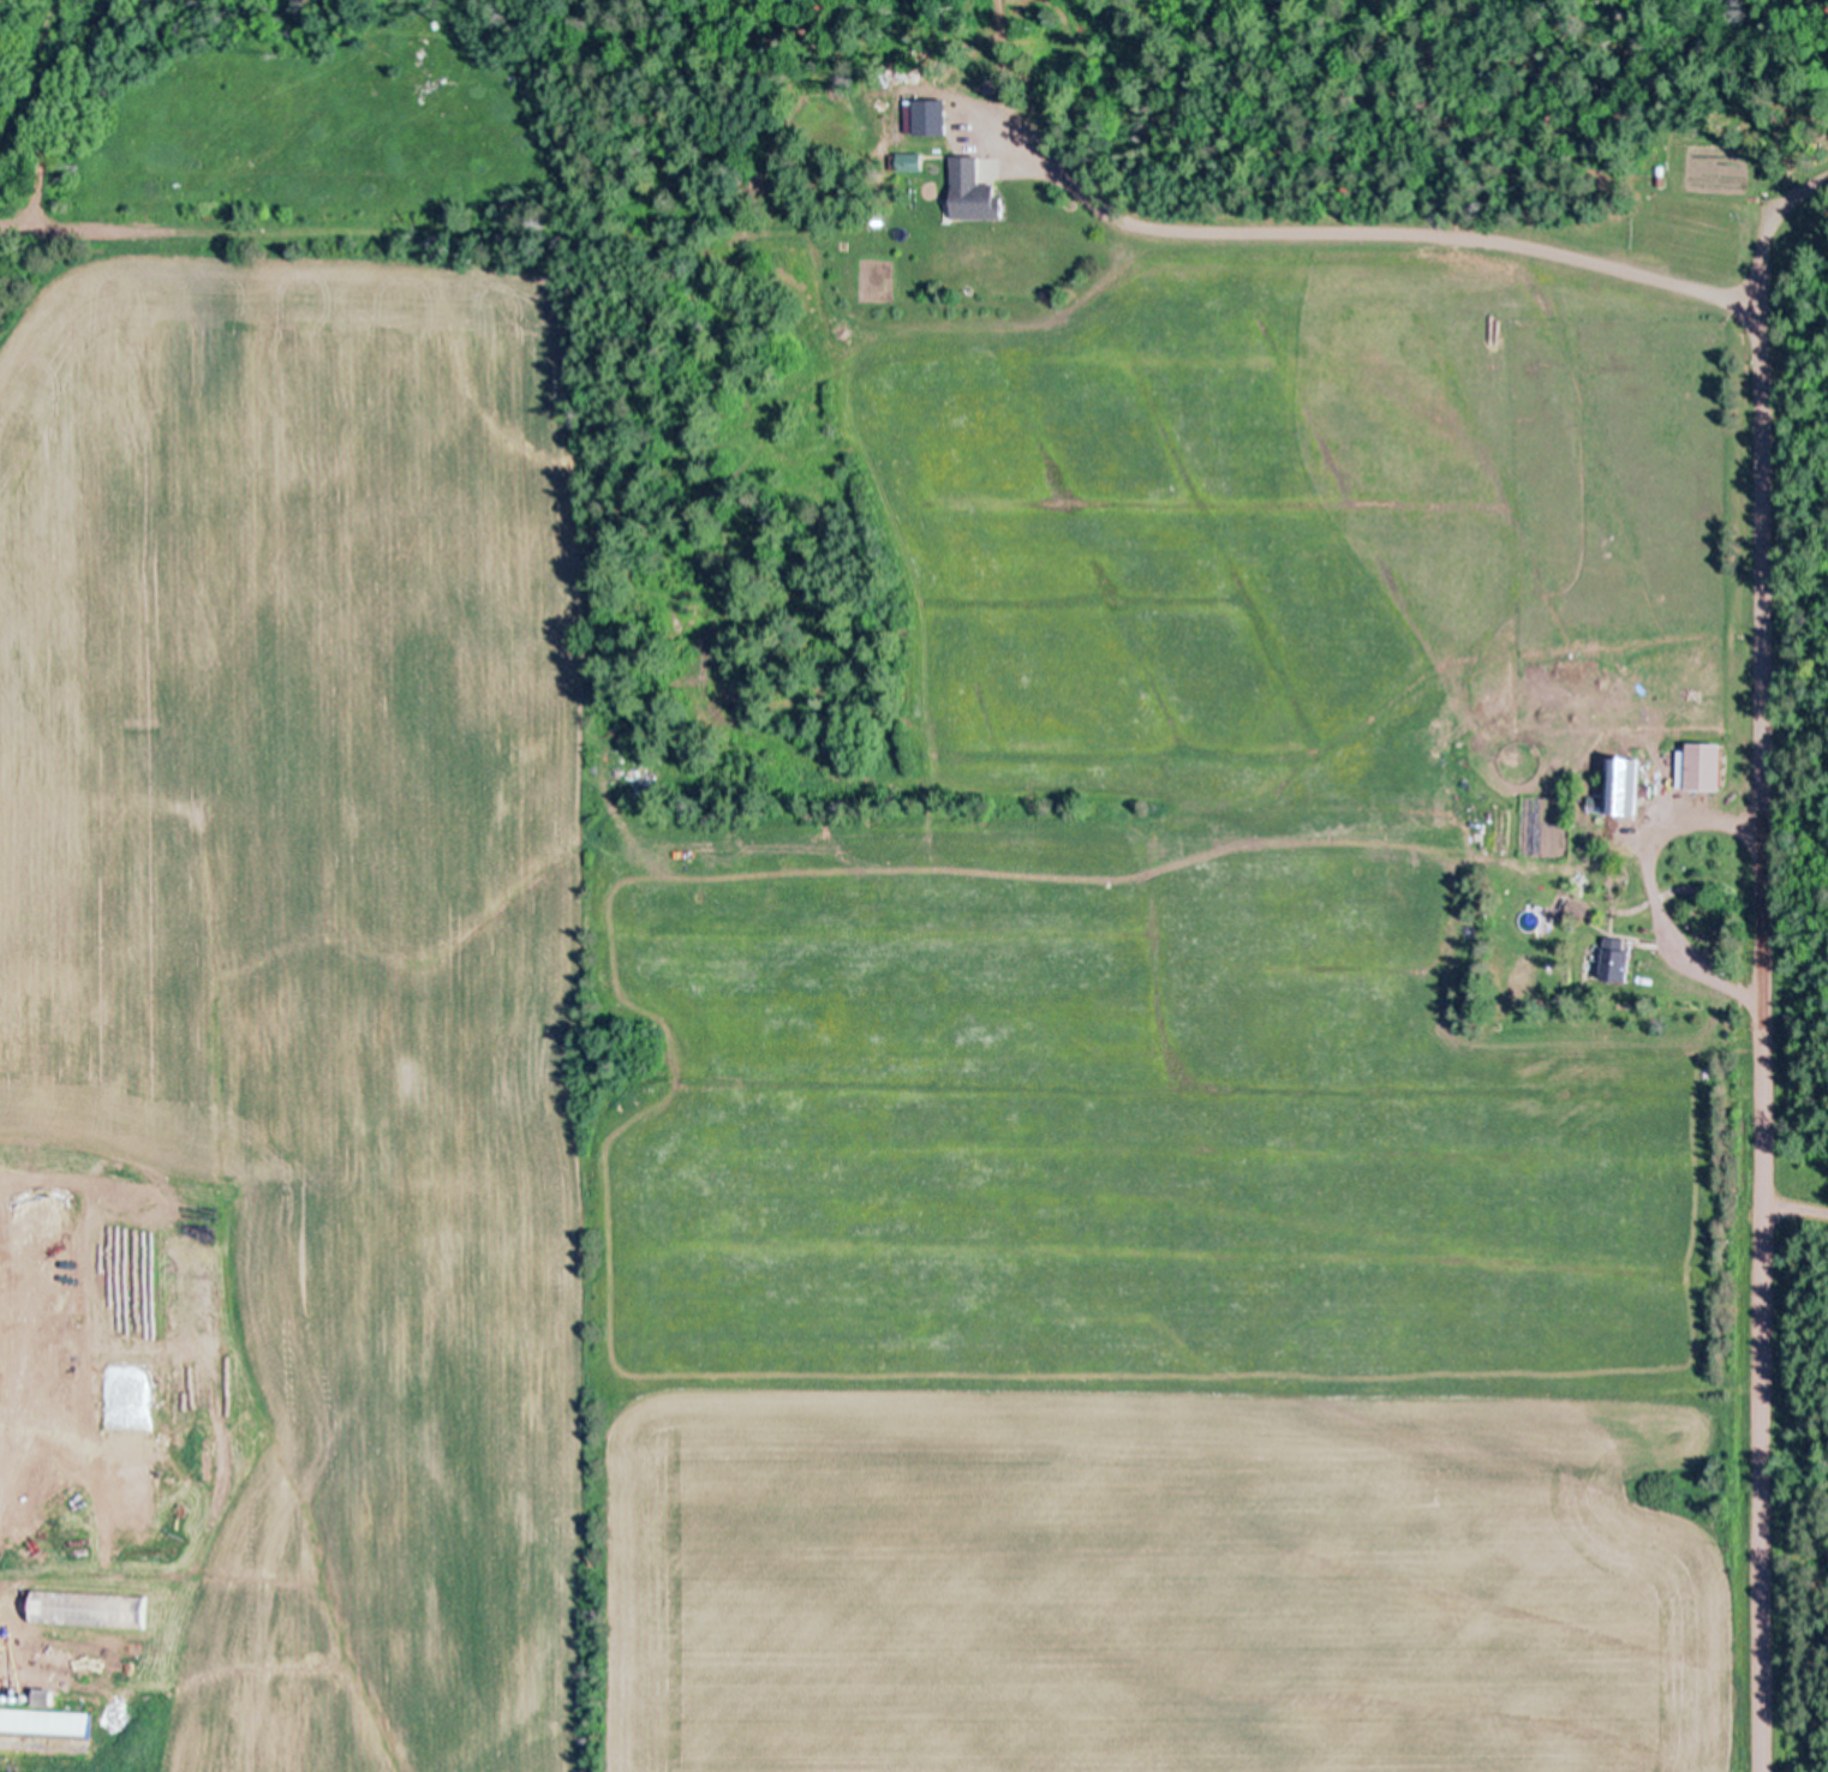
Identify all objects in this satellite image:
road: (22, 35)
building: (928, 115)
building: (914, 160)
building: (975, 190)
road: (1385, 237)
building: (1703, 766)
building: (1624, 786)
building: (1599, 802)
road: (1763, 957)
building: (1618, 958)
building: (46, 1723)

